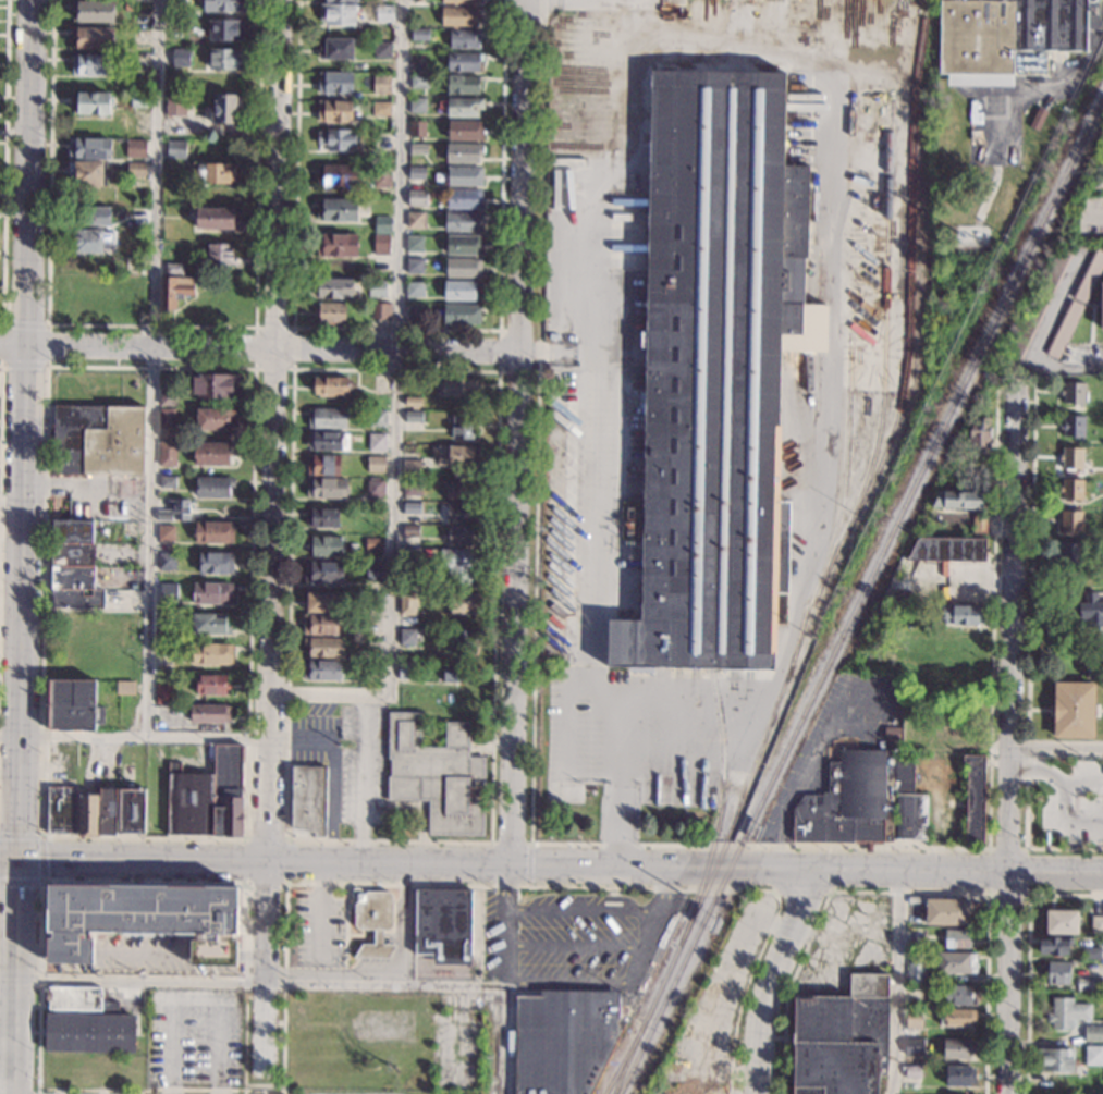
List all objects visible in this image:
building: (341, 0)
building: (138, 1)
building: (459, 1)
building: (175, 3)
building: (222, 5)
building: (128, 8)
building: (95, 11)
building: (383, 13)
building: (338, 14)
building: (458, 15)
building: (225, 29)
building: (419, 34)
building: (1005, 35)
building: (95, 38)
building: (463, 38)
building: (335, 48)
building: (382, 49)
building: (417, 56)
building: (181, 58)
building: (225, 59)
building: (463, 62)
building: (1035, 63)
building: (91, 64)
building: (335, 82)
building: (418, 82)
building: (381, 84)
building: (463, 84)
road: (1047, 87)
building: (138, 100)
building: (93, 103)
building: (417, 105)
building: (174, 106)
building: (464, 107)
building: (381, 108)
building: (225, 109)
building: (334, 110)
building: (417, 128)
building: (465, 131)
building: (335, 139)
building: (381, 139)
building: (90, 148)
building: (135, 148)
building: (175, 148)
building: (418, 148)
building: (463, 152)
road: (3, 162)
building: (136, 169)
building: (416, 172)
building: (88, 173)
building: (217, 173)
building: (336, 175)
building: (465, 175)
building: (381, 176)
building: (416, 197)
building: (464, 198)
building: (339, 210)
building: (89, 216)
building: (215, 218)
building: (416, 220)
building: (463, 221)
building: (382, 224)
building: (93, 241)
building: (414, 243)
building: (336, 244)
building: (381, 244)
building: (463, 245)
building: (220, 254)
building: (414, 265)
road: (597, 265)
building: (463, 267)
building: (173, 268)
building: (205, 284)
building: (87, 285)
building: (334, 287)
building: (377, 288)
building: (415, 288)
building: (173, 290)
building: (462, 290)
building: (1075, 304)
building: (1101, 305)
building: (380, 310)
building: (331, 311)
building: (1035, 311)
building: (415, 314)
building: (461, 314)
railway: (884, 320)
road: (23, 324)
road: (150, 324)
road: (395, 329)
road: (1041, 339)
road: (0, 345)
road: (46, 345)
road: (259, 348)
road: (22, 366)
road: (151, 369)
road: (252, 369)
road: (290, 369)
road: (498, 369)
road: (497, 371)
building: (715, 373)
building: (561, 379)
building: (216, 385)
building: (330, 385)
building: (459, 386)
building: (1073, 392)
building: (167, 395)
building: (413, 402)
road: (394, 406)
building: (413, 416)
building: (377, 417)
building: (167, 418)
building: (328, 418)
building: (213, 419)
building: (462, 426)
building: (1073, 426)
building: (979, 432)
building: (98, 440)
building: (328, 440)
building: (377, 442)
building: (167, 453)
building: (212, 454)
building: (455, 455)
building: (1071, 458)
building: (376, 464)
building: (323, 465)
building: (410, 468)
railway: (845, 471)
building: (167, 481)
building: (212, 487)
building: (326, 487)
building: (412, 487)
building: (375, 488)
building: (458, 490)
building: (1071, 490)
road: (272, 491)
building: (957, 500)
building: (174, 511)
building: (412, 512)
building: (458, 512)
building: (324, 518)
building: (1071, 520)
building: (130, 526)
building: (410, 530)
building: (213, 531)
building: (164, 532)
building: (459, 536)
building: (72, 542)
building: (373, 543)
building: (326, 545)
building: (953, 545)
road: (24, 546)
road: (516, 546)
building: (1070, 553)
building: (410, 556)
railway: (832, 560)
building: (166, 561)
building: (216, 563)
building: (456, 566)
building: (373, 571)
building: (323, 573)
road: (614, 579)
building: (74, 588)
building: (168, 592)
building: (211, 592)
railway: (860, 598)
building: (372, 601)
building: (321, 602)
building: (407, 602)
building: (465, 602)
building: (184, 609)
building: (1091, 610)
building: (963, 614)
building: (163, 622)
building: (211, 623)
building: (320, 625)
building: (407, 637)
building: (462, 641)
railway: (796, 642)
building: (369, 646)
building: (323, 647)
building: (211, 654)
road: (1027, 655)
building: (1098, 662)
building: (372, 667)
building: (321, 669)
building: (407, 669)
building: (456, 673)
building: (373, 677)
building: (210, 684)
building: (124, 687)
building: (163, 693)
building: (73, 705)
building: (1074, 710)
building: (210, 715)
building: (432, 726)
road: (843, 727)
building: (956, 732)
building: (892, 733)
building: (914, 733)
road: (134, 737)
road: (1010, 739)
road: (1056, 749)
railway: (723, 750)
railway: (747, 754)
building: (437, 774)
road: (364, 778)
road: (1082, 786)
building: (206, 797)
road: (1062, 797)
building: (308, 798)
building: (975, 798)
building: (850, 801)
building: (908, 803)
building: (61, 809)
building: (107, 811)
building: (131, 811)
railway: (721, 811)
building: (87, 814)
road: (508, 844)
road: (562, 844)
traffic signals: (16, 859)
road: (40, 859)
road: (389, 864)
road: (528, 864)
road: (795, 868)
road: (957, 869)
road: (285, 884)
road: (802, 892)
road: (903, 892)
road: (1026, 895)
road: (583, 909)
building: (947, 911)
building: (143, 918)
building: (373, 921)
building: (1062, 922)
building: (443, 924)
road: (650, 924)
building: (1096, 924)
road: (252, 927)
building: (957, 938)
building: (916, 943)
road: (574, 944)
building: (1054, 946)
road: (32, 952)
road: (70, 952)
building: (1091, 952)
road: (142, 954)
parking lot: (144, 954)
road: (213, 954)
road: (252, 954)
road: (1027, 957)
building: (955, 962)
building: (1075, 962)
road: (284, 963)
road: (383, 971)
building: (917, 972)
building: (1057, 972)
road: (772, 978)
road: (565, 980)
road: (895, 981)
road: (252, 983)
building: (1089, 984)
building: (915, 992)
building: (960, 995)
road: (189, 997)
building: (433, 1001)
building: (1067, 1012)
building: (959, 1018)
building: (914, 1022)
building: (86, 1023)
building: (1093, 1033)
parking lot: (194, 1037)
building: (842, 1038)
building: (563, 1040)
building: (914, 1046)
building: (958, 1047)
building: (1093, 1055)
railway: (624, 1058)
building: (1055, 1059)
building: (912, 1071)
building: (959, 1075)
road: (143, 1090)

